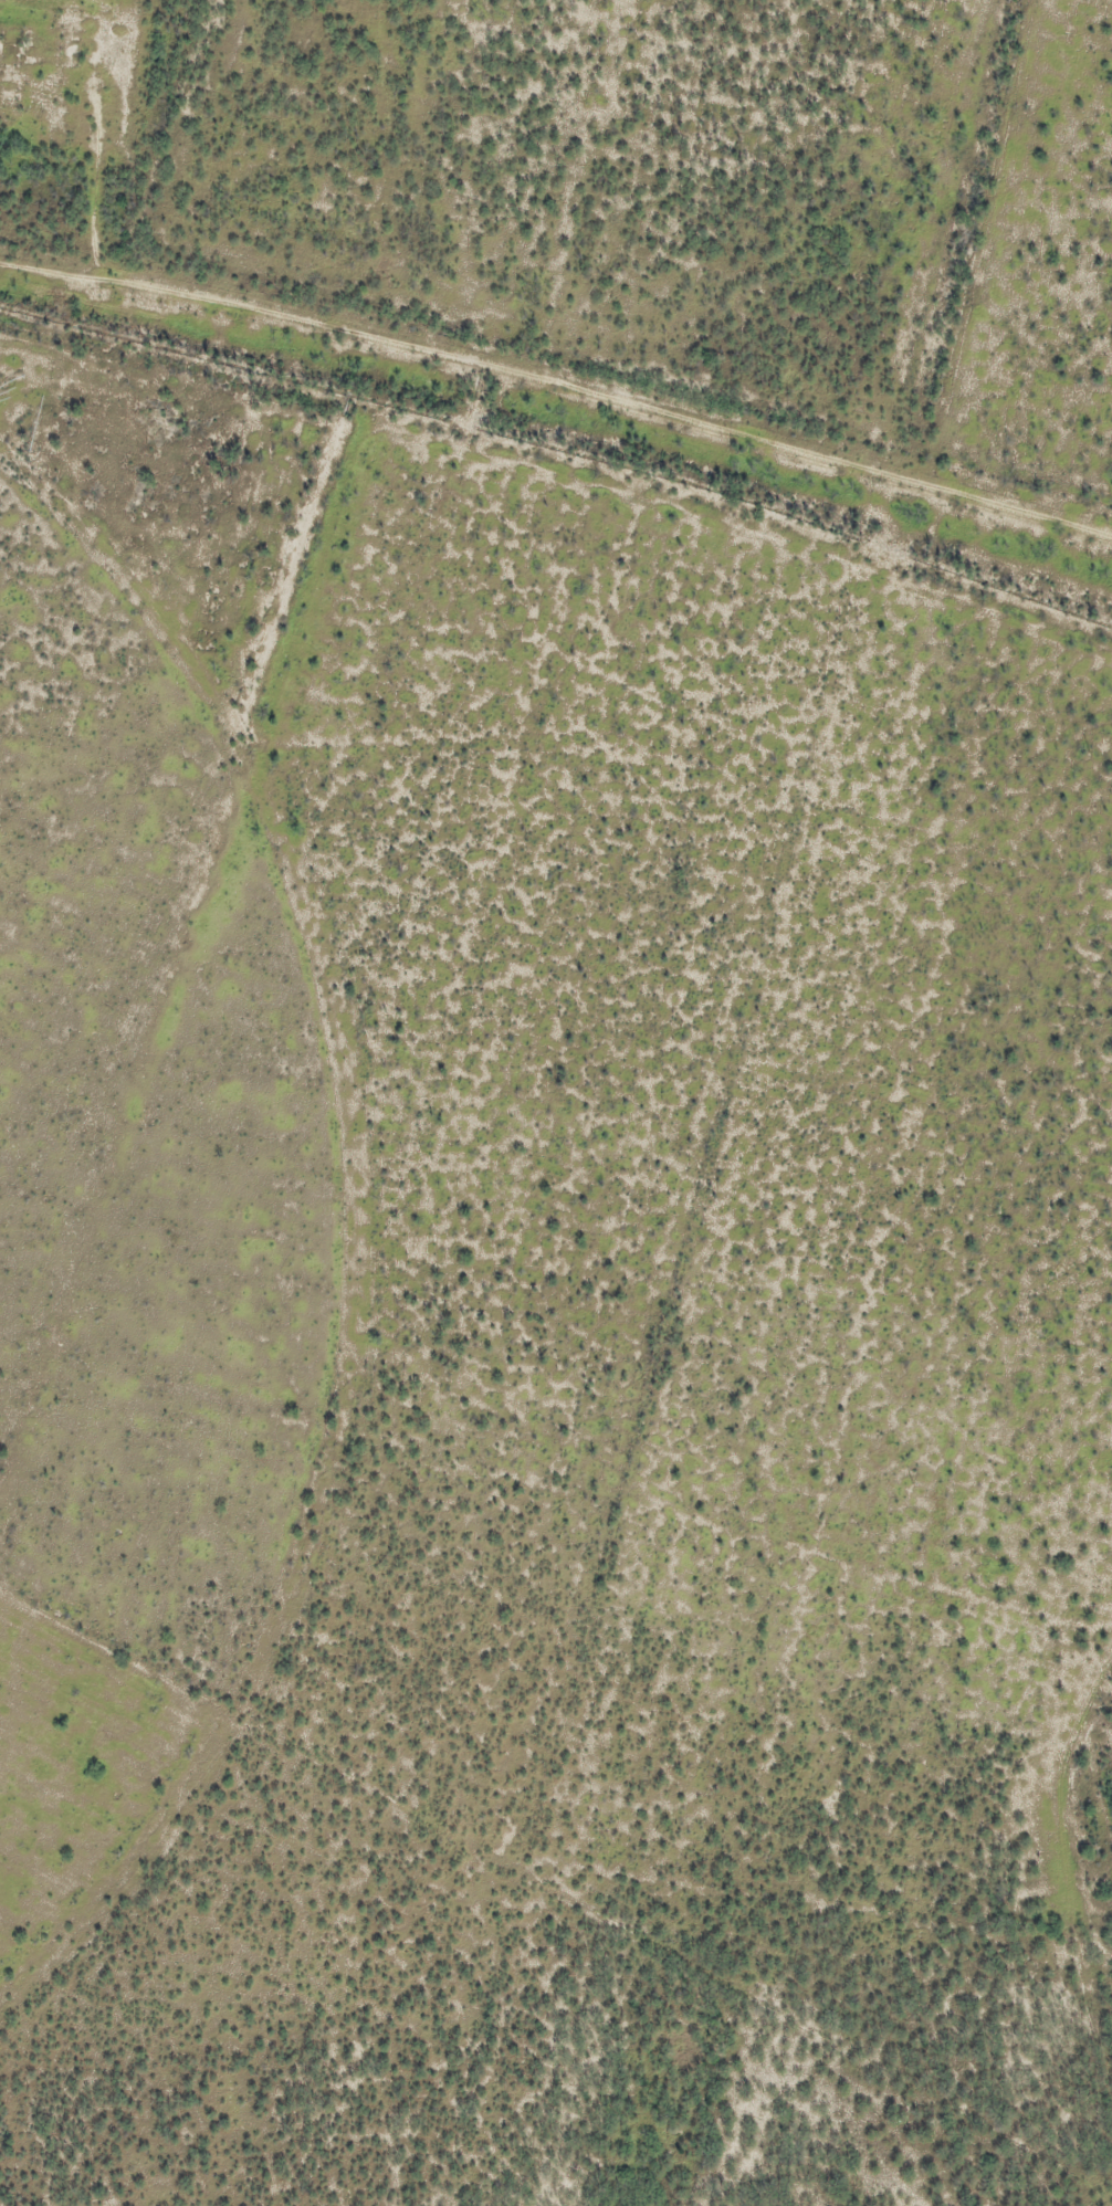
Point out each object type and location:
road: (559, 380)

